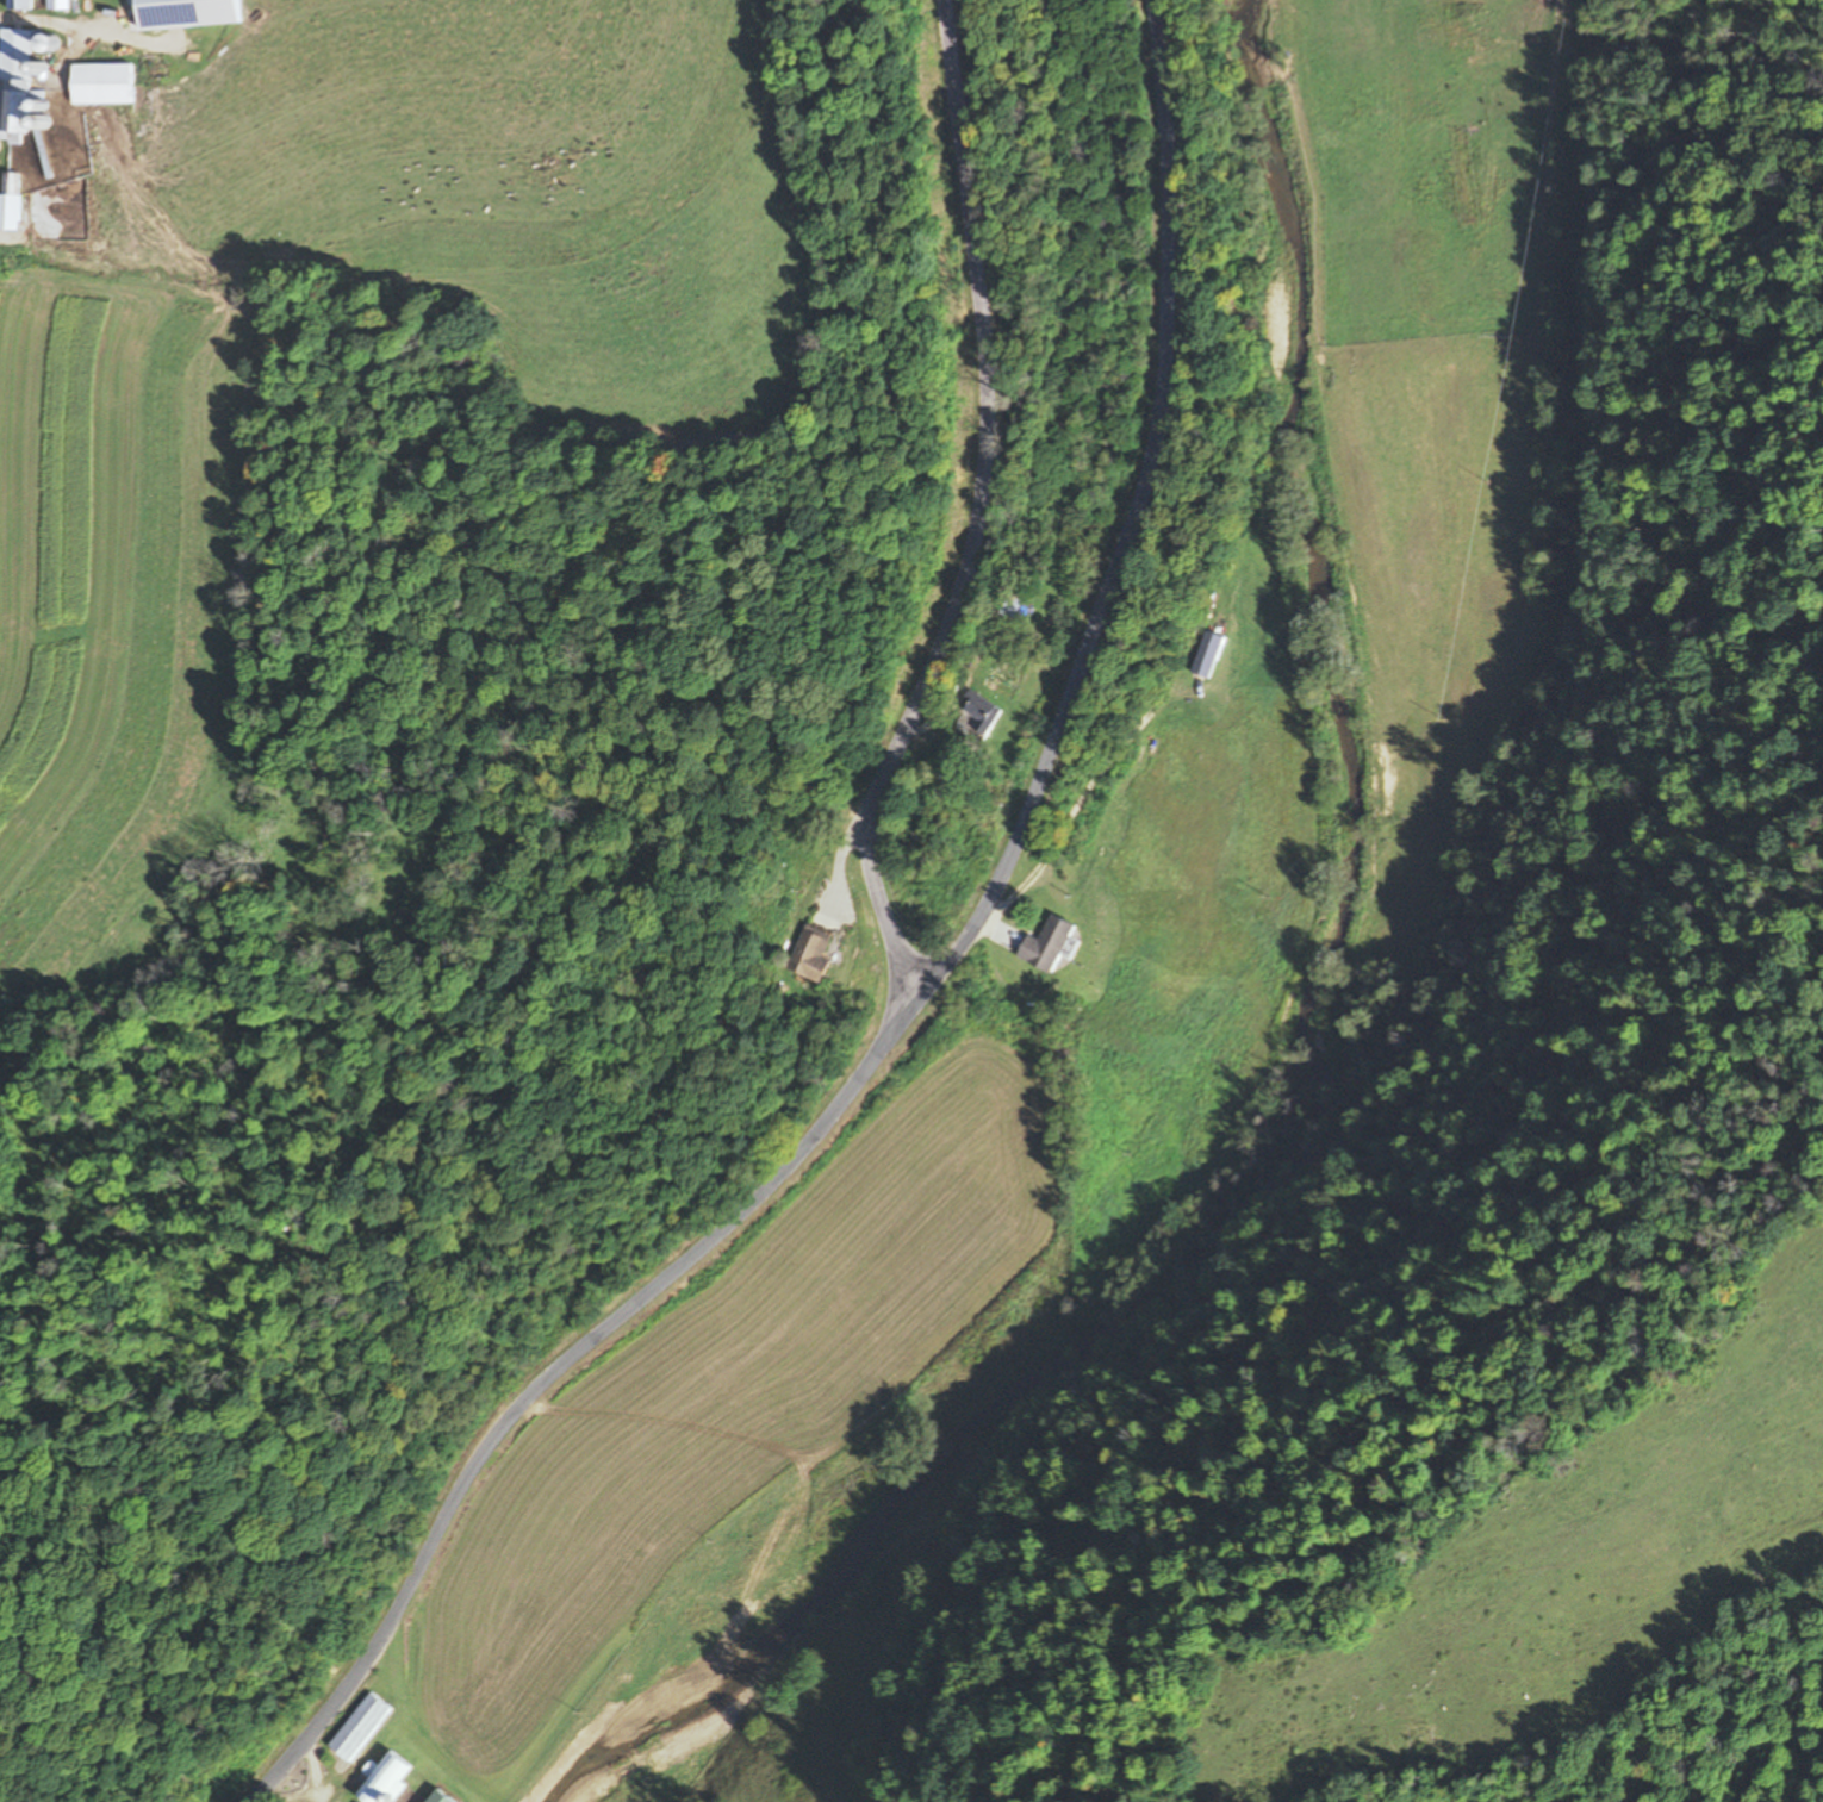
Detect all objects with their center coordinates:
building: (17, 5)
building: (56, 5)
building: (185, 14)
building: (21, 76)
building: (99, 85)
building: (8, 202)
road: (982, 518)
building: (1007, 601)
building: (1205, 656)
building: (978, 710)
building: (1044, 946)
building: (808, 955)
road: (927, 999)
building: (355, 1728)
building: (381, 1781)

